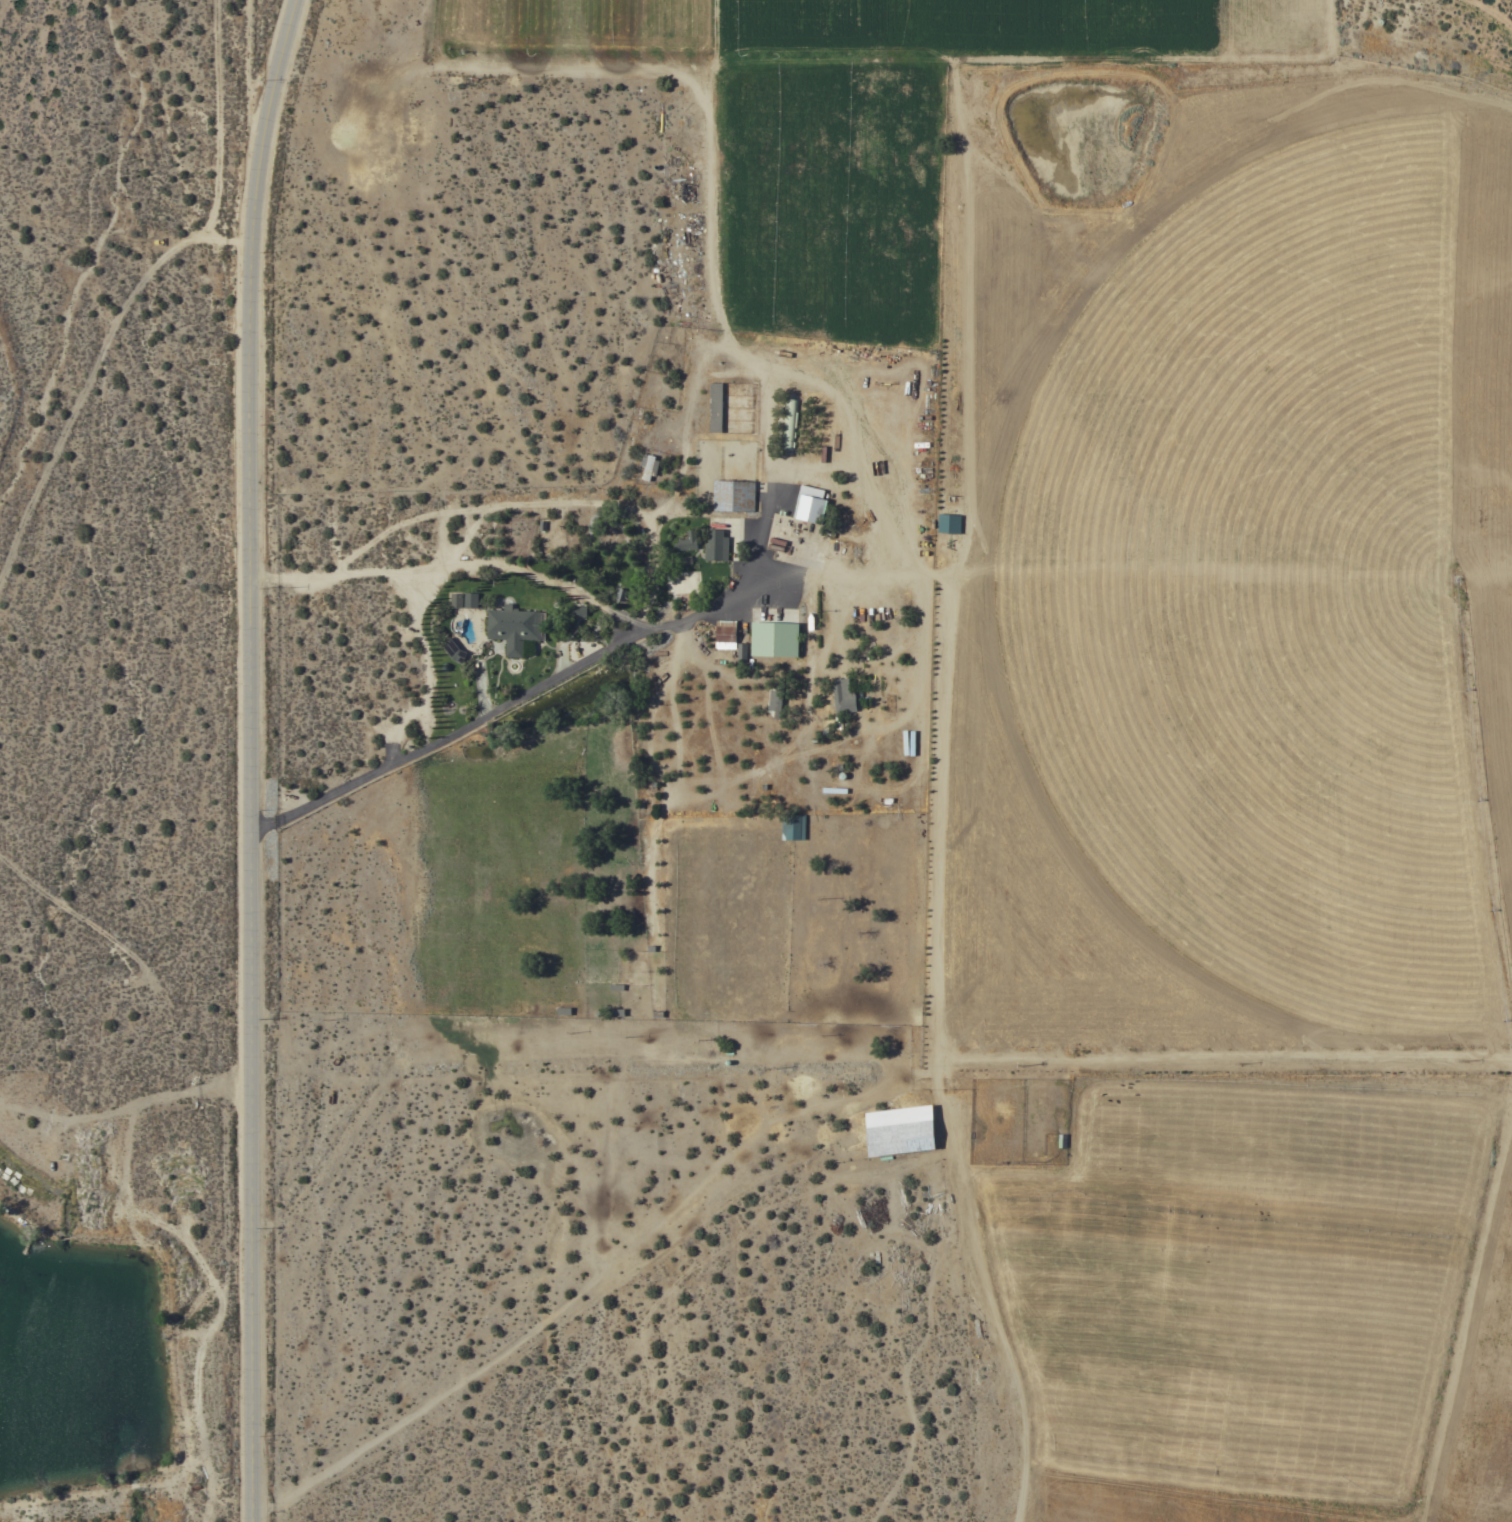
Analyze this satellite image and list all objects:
building: (716, 407)
building: (790, 423)
road: (685, 442)
building: (650, 465)
road: (779, 483)
building: (734, 495)
building: (811, 504)
building: (950, 522)
road: (384, 532)
building: (688, 541)
building: (717, 545)
road: (546, 580)
building: (622, 594)
building: (457, 599)
building: (472, 599)
building: (580, 609)
building: (516, 627)
building: (726, 633)
building: (776, 638)
building: (455, 649)
building: (741, 653)
crop: (1186, 685)
building: (837, 690)
building: (776, 700)
road: (510, 707)
road: (249, 758)
building: (794, 825)
road: (1096, 1098)
building: (900, 1131)
road: (550, 1321)

